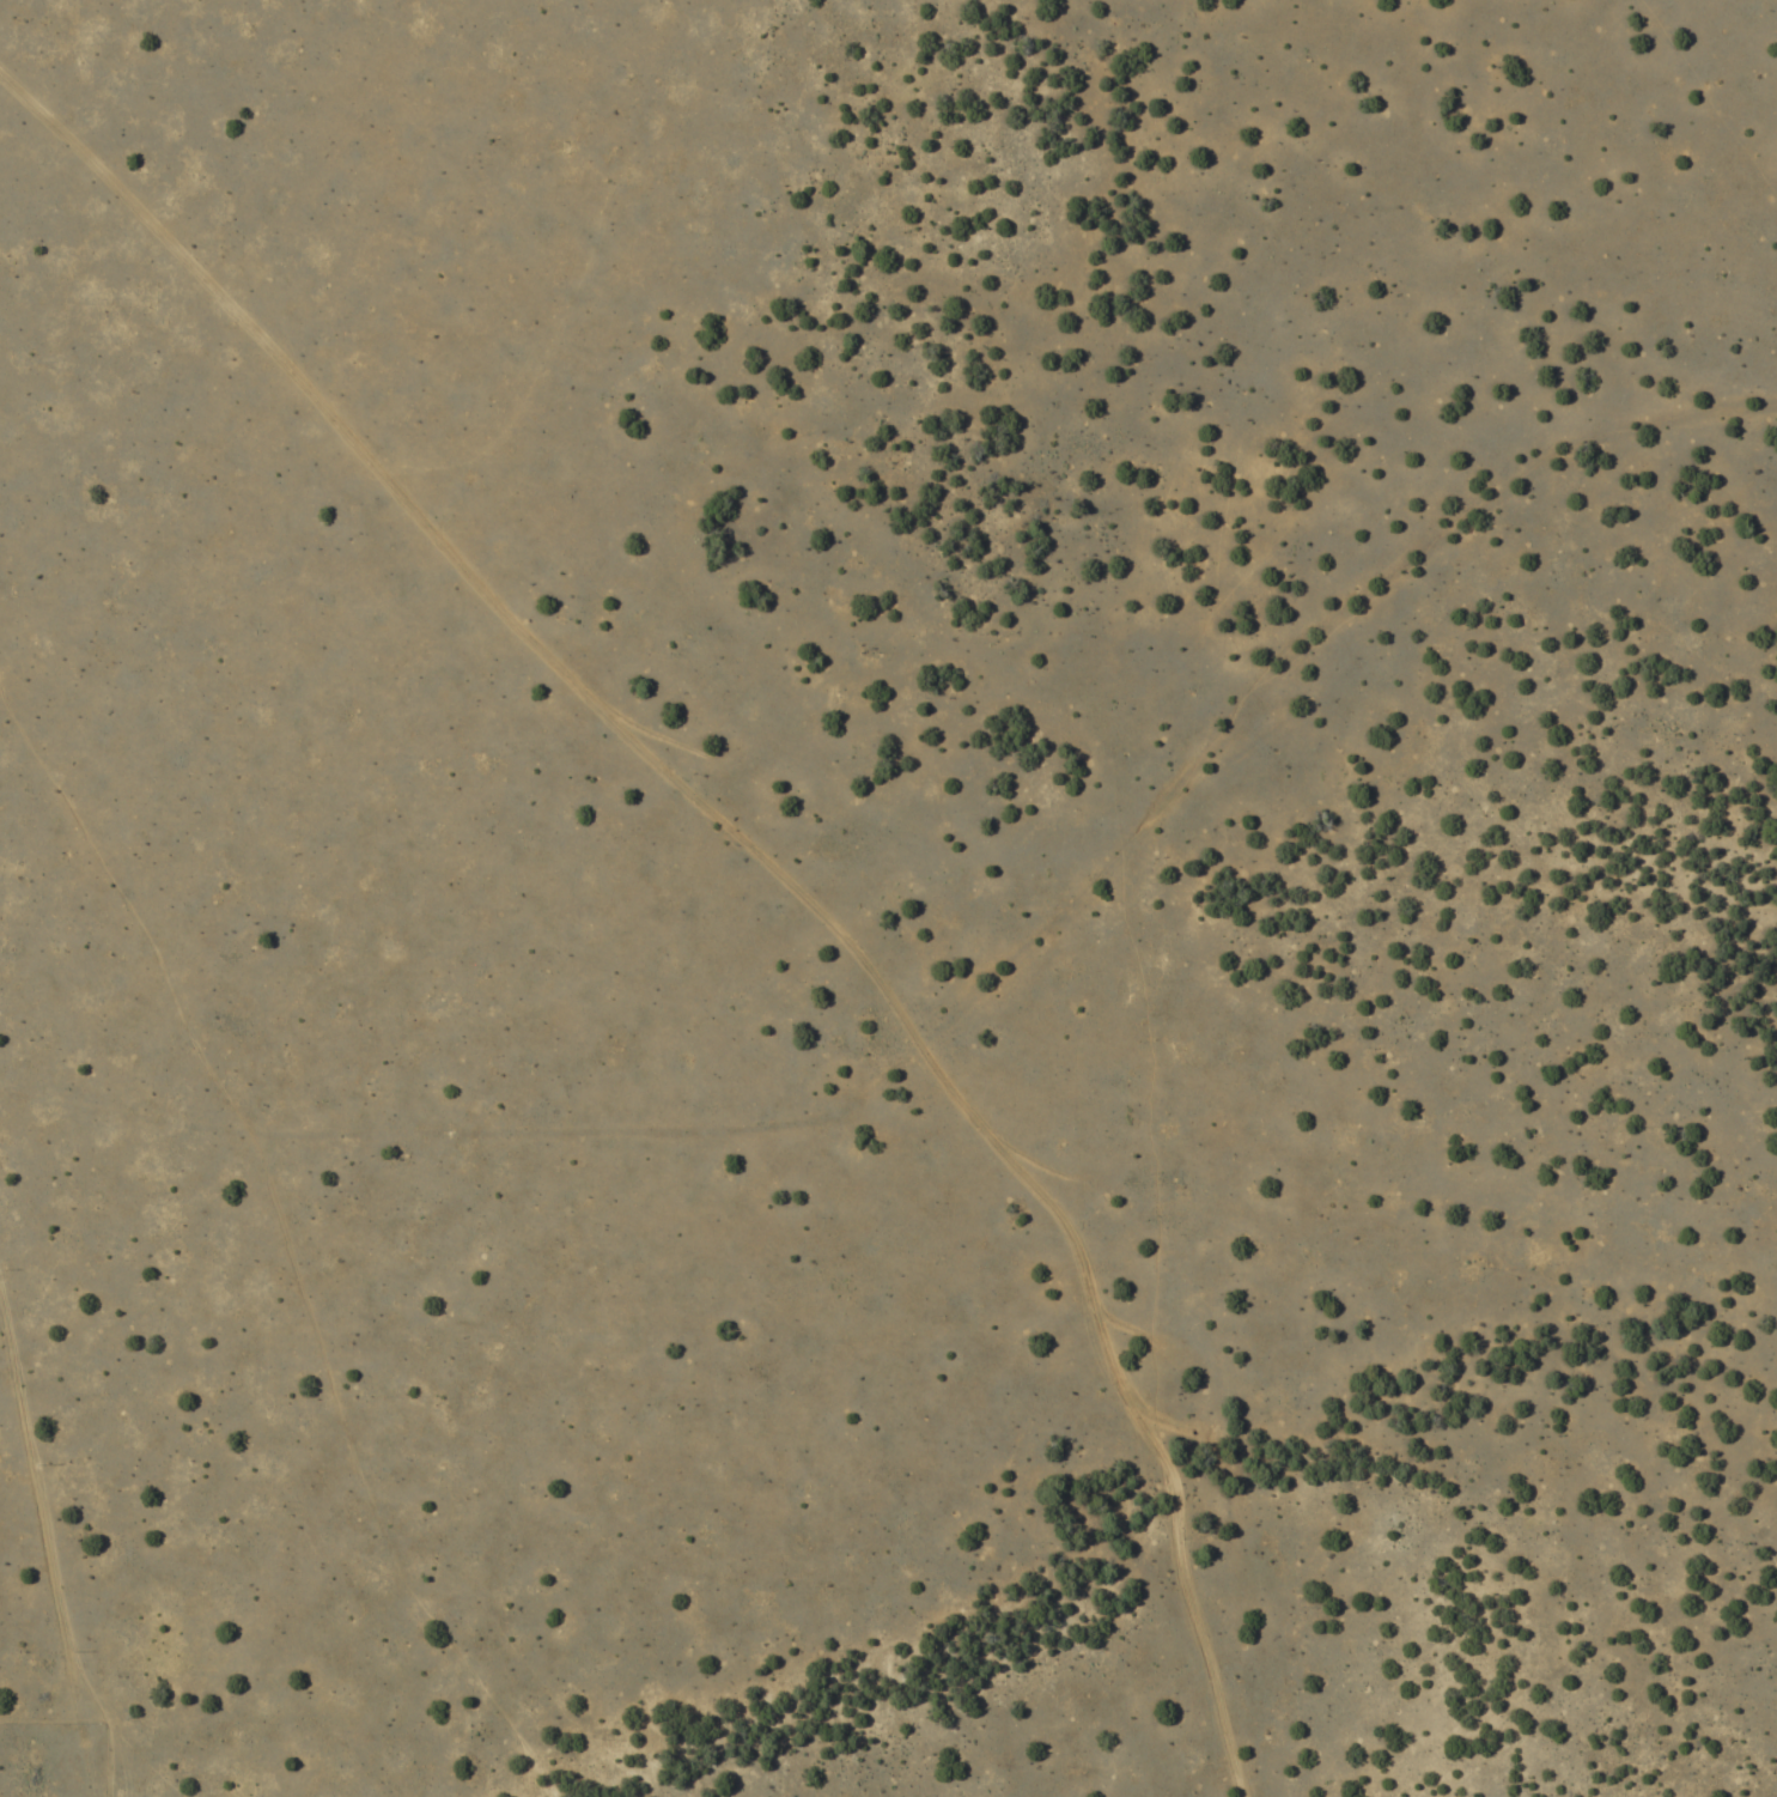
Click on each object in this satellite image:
road: (737, 892)

